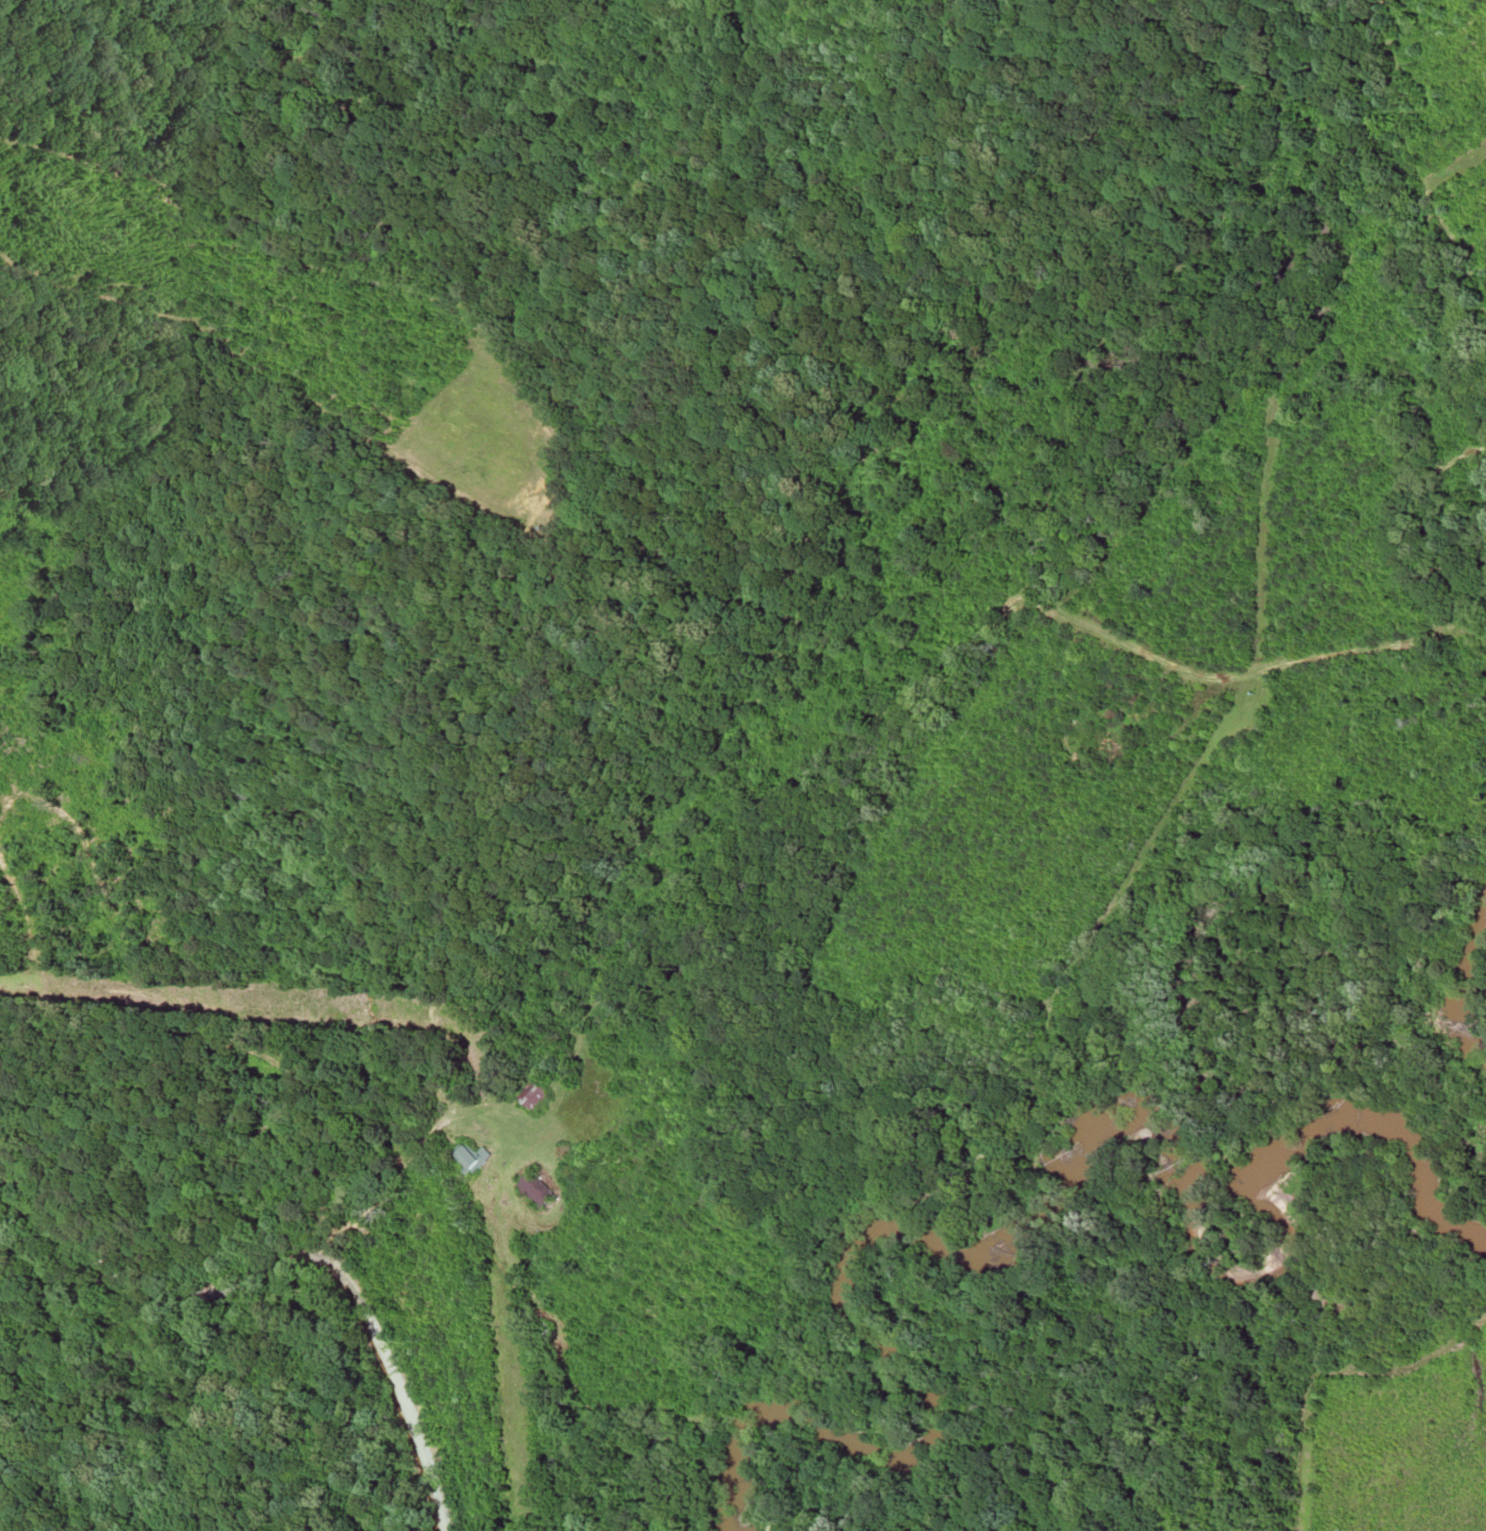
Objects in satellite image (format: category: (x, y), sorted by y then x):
building: (548, 1096)
building: (483, 1154)
building: (556, 1187)
road: (291, 1274)

